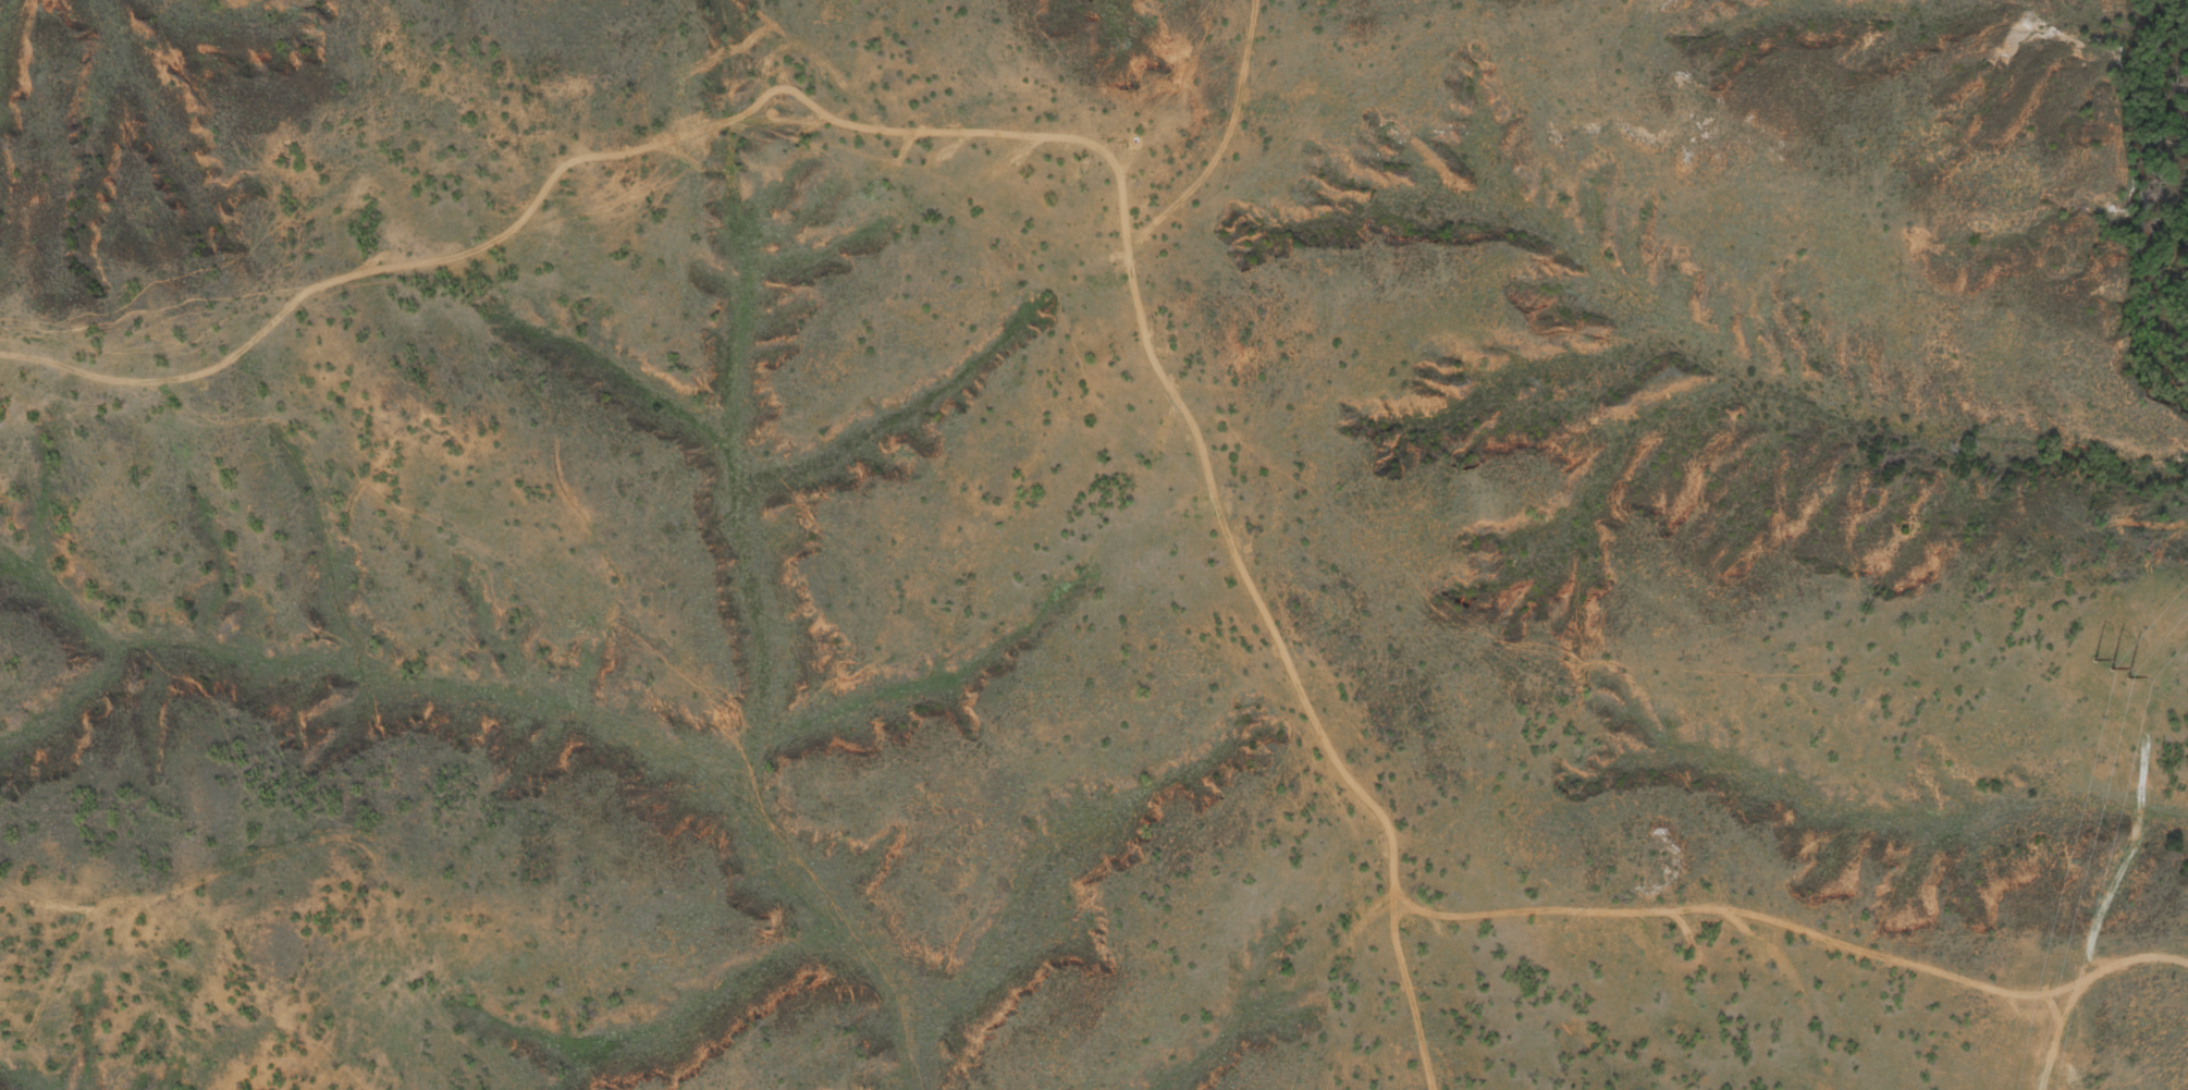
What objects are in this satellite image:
power tower: (2110, 668)

